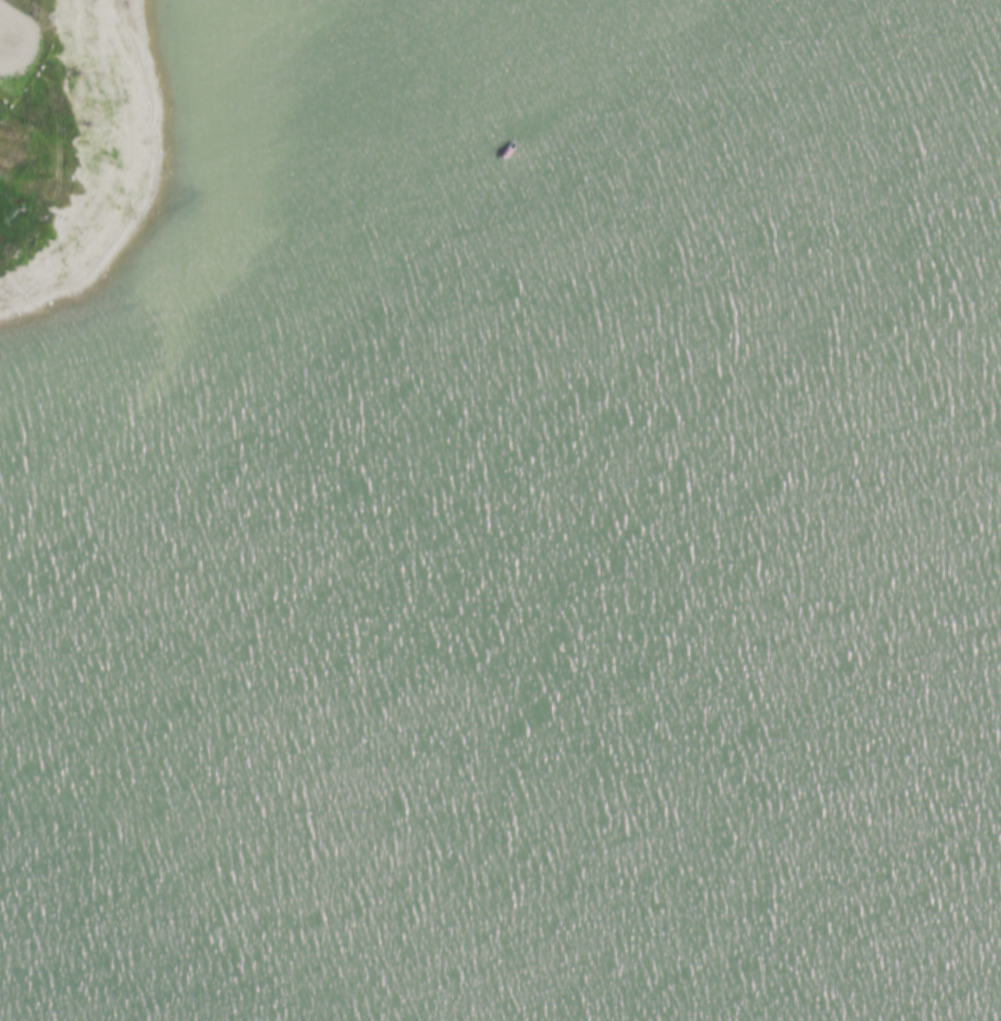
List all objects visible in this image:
road: (9, 52)

